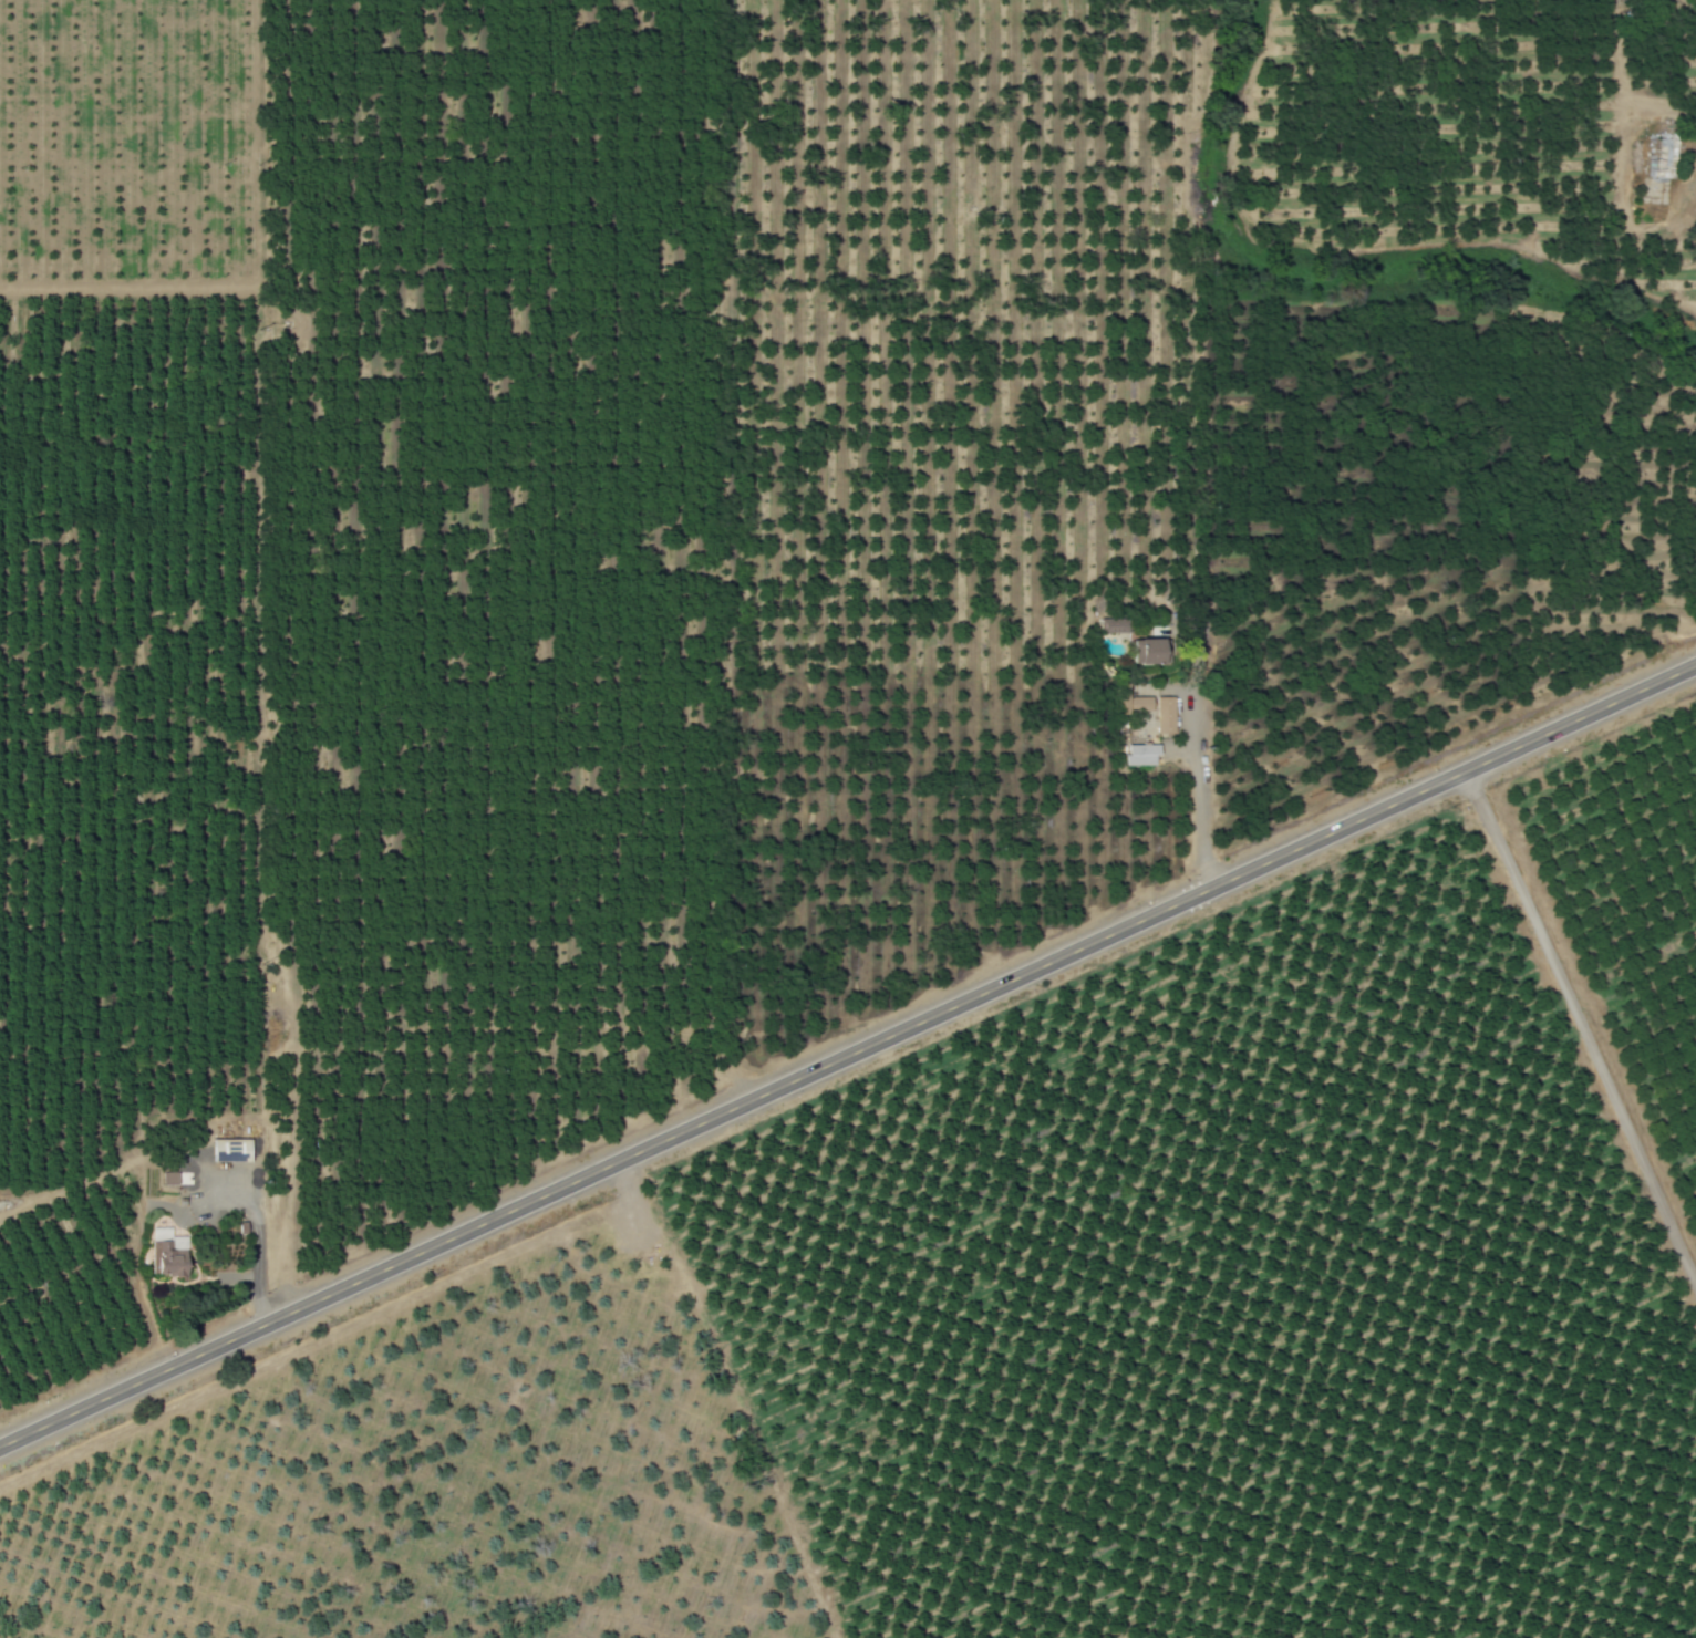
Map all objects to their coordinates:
building: (1668, 156)
building: (1141, 651)
building: (1162, 715)
building: (1137, 754)
road: (1196, 792)
road: (1583, 1026)
road: (847, 1055)
building: (234, 1150)
road: (257, 1237)
building: (650, 1250)
building: (170, 1252)

